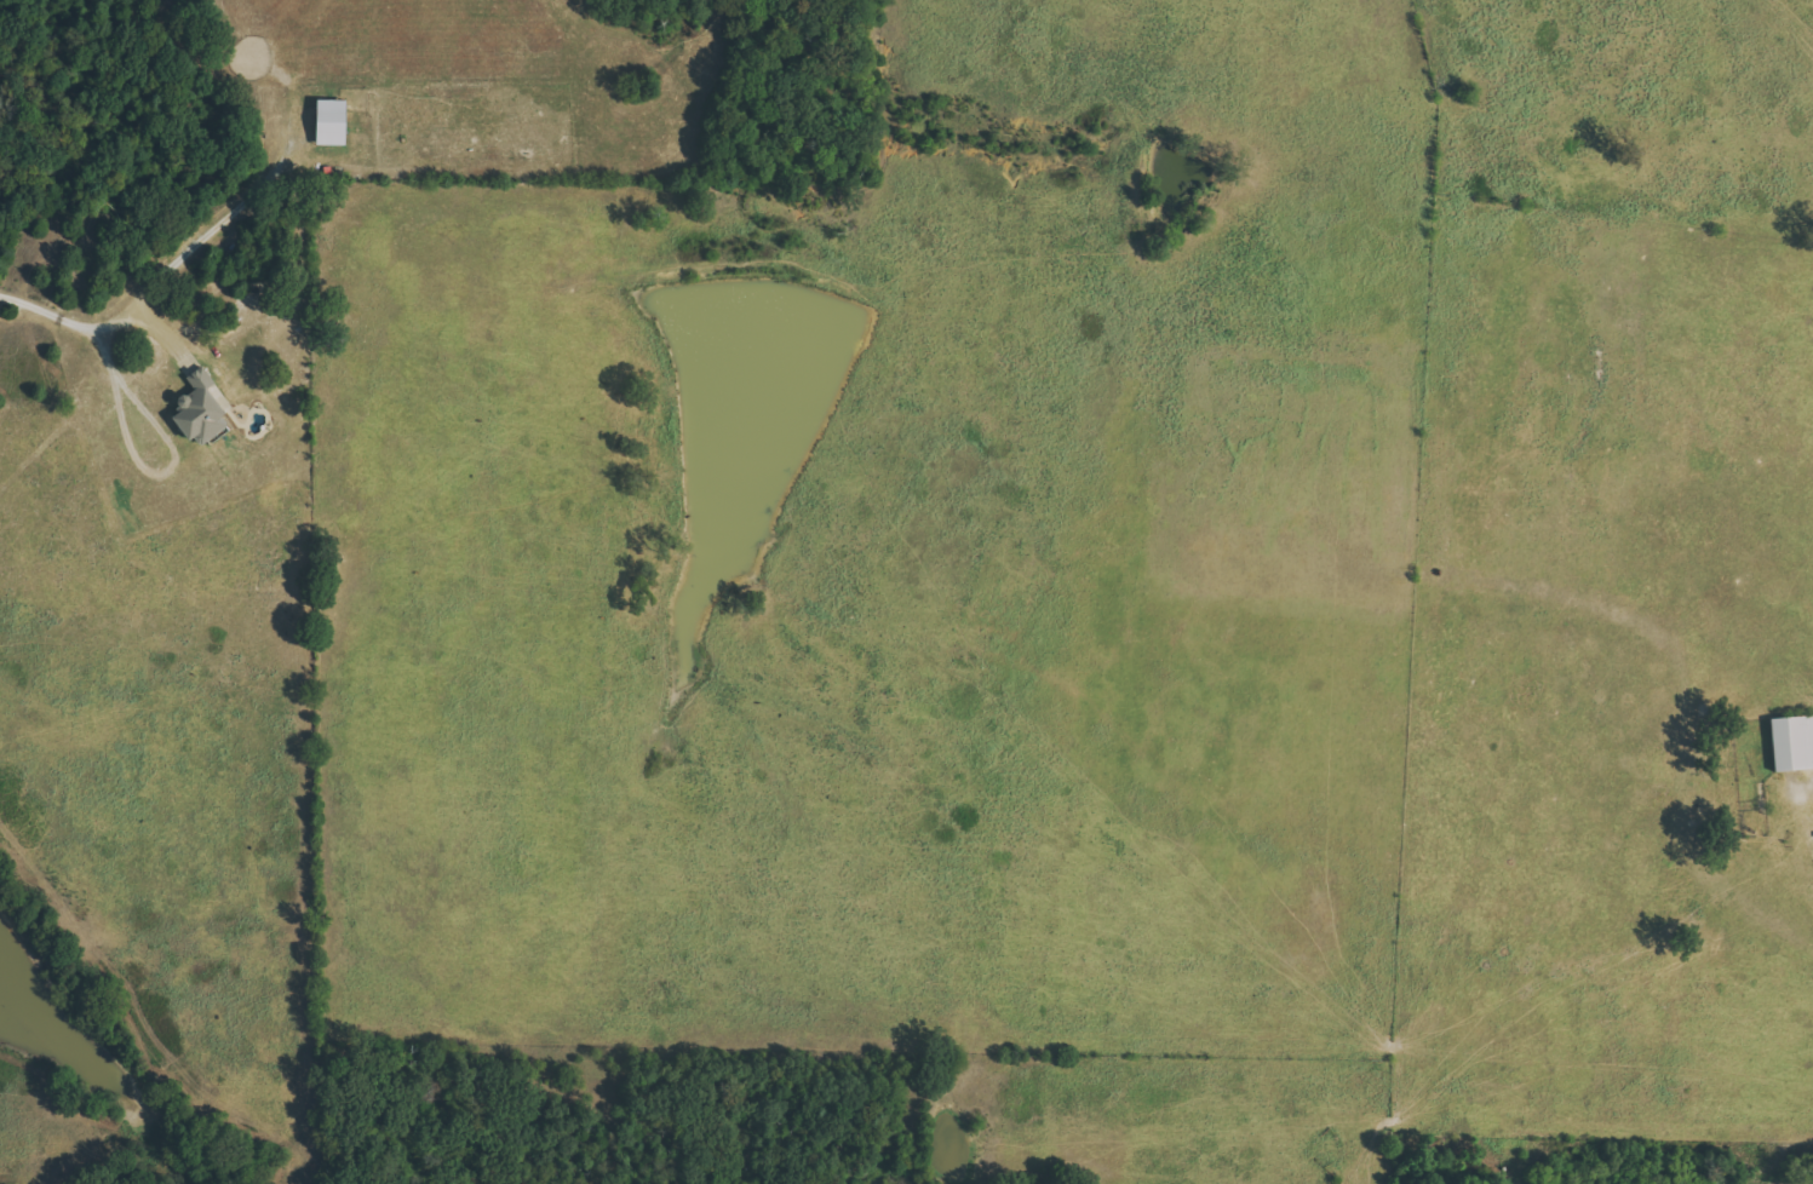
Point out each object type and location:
building: (340, 122)
road: (157, 278)
building: (1791, 742)

